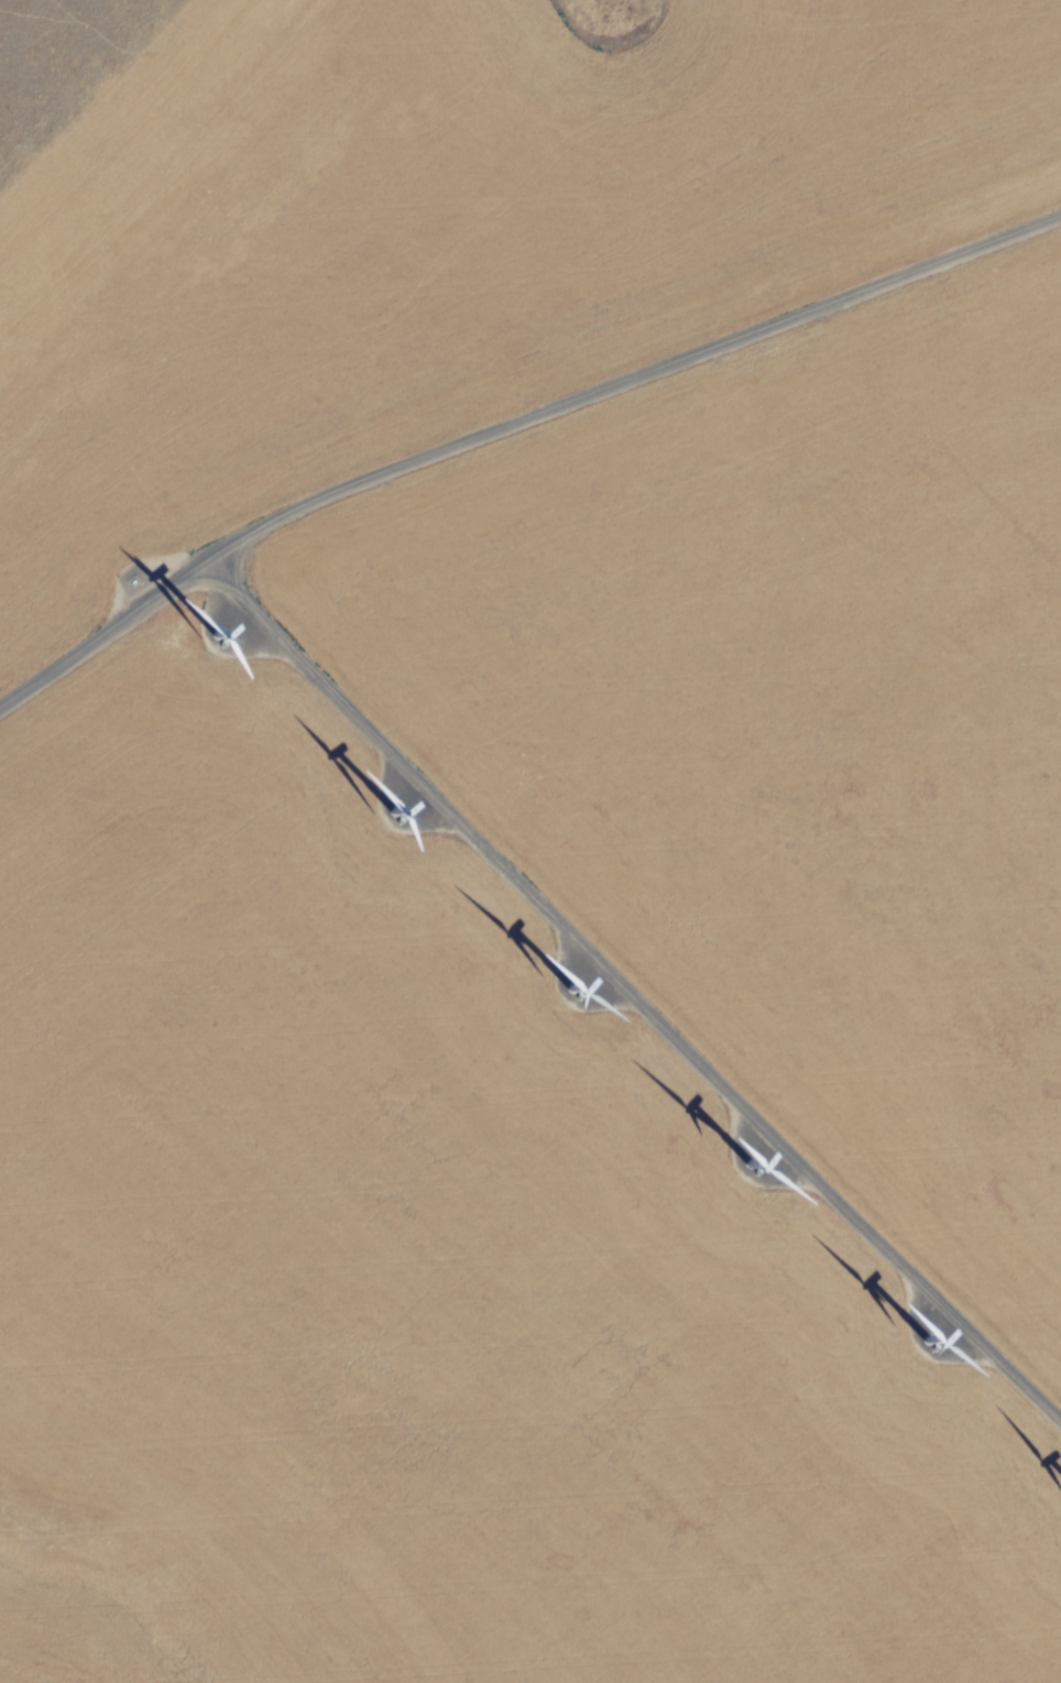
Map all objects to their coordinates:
road: (512, 429)
wind turbine: (221, 638)
wind turbine: (407, 816)
road: (637, 992)
wind turbine: (562, 997)
wind turbine: (731, 1169)
wind turbine: (916, 1351)

